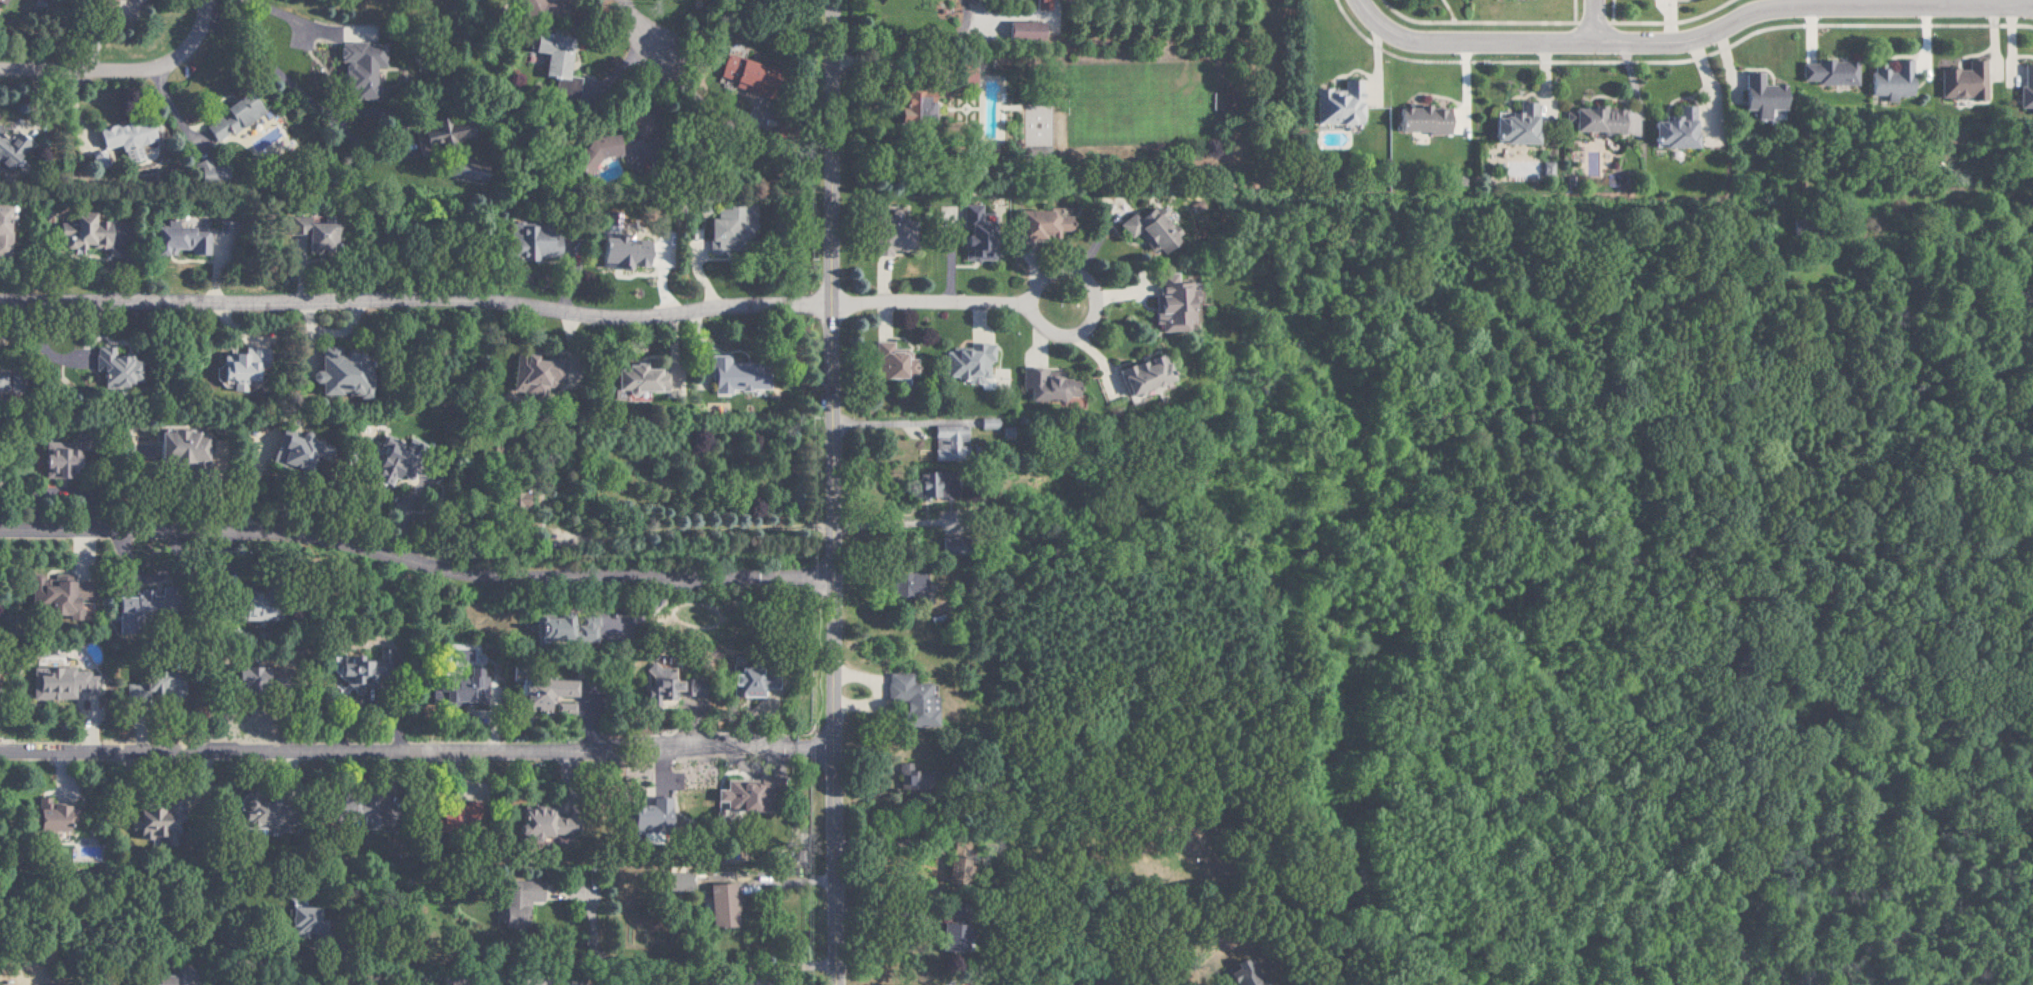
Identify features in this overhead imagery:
building: (98, 4)
building: (1041, 5)
building: (527, 7)
road: (964, 12)
road: (289, 14)
road: (1590, 22)
building: (1022, 31)
road: (1689, 40)
road: (646, 42)
road: (264, 56)
road: (884, 64)
building: (359, 69)
building: (739, 73)
building: (1827, 73)
road: (126, 75)
building: (964, 77)
building: (1888, 82)
building: (1960, 83)
building: (2025, 89)
building: (1759, 96)
building: (1335, 105)
building: (911, 107)
building: (227, 119)
building: (1417, 120)
building: (1592, 121)
building: (1512, 127)
building: (1671, 131)
building: (441, 133)
building: (125, 139)
building: (590, 153)
building: (1543, 170)
building: (1035, 226)
building: (724, 229)
building: (1145, 230)
building: (79, 233)
building: (307, 233)
building: (887, 233)
building: (971, 234)
road: (1094, 239)
building: (174, 240)
building: (531, 243)
building: (621, 252)
road: (884, 291)
road: (1116, 292)
road: (416, 304)
building: (1167, 305)
road: (1027, 308)
road: (979, 318)
road: (1034, 343)
road: (1095, 360)
building: (893, 362)
building: (967, 363)
building: (114, 368)
building: (238, 370)
building: (732, 376)
building: (331, 377)
building: (529, 377)
building: (1139, 377)
building: (1043, 387)
building: (1068, 403)
road: (883, 423)
building: (985, 423)
building: (945, 442)
building: (179, 449)
building: (293, 450)
building: (60, 460)
building: (387, 461)
building: (927, 484)
road: (831, 492)
building: (511, 499)
road: (415, 566)
building: (909, 586)
building: (58, 597)
building: (254, 614)
building: (127, 616)
building: (559, 629)
building: (353, 671)
building: (247, 677)
building: (58, 680)
building: (742, 682)
building: (656, 685)
building: (460, 688)
building: (539, 693)
building: (911, 701)
building: (562, 708)
road: (416, 752)
building: (907, 776)
building: (738, 795)
building: (255, 814)
building: (647, 815)
building: (52, 817)
building: (537, 822)
building: (154, 823)
building: (677, 882)
building: (519, 899)
building: (722, 905)
building: (304, 916)
road: (685, 962)
building: (166, 981)
road: (240, 981)
road: (407, 982)

